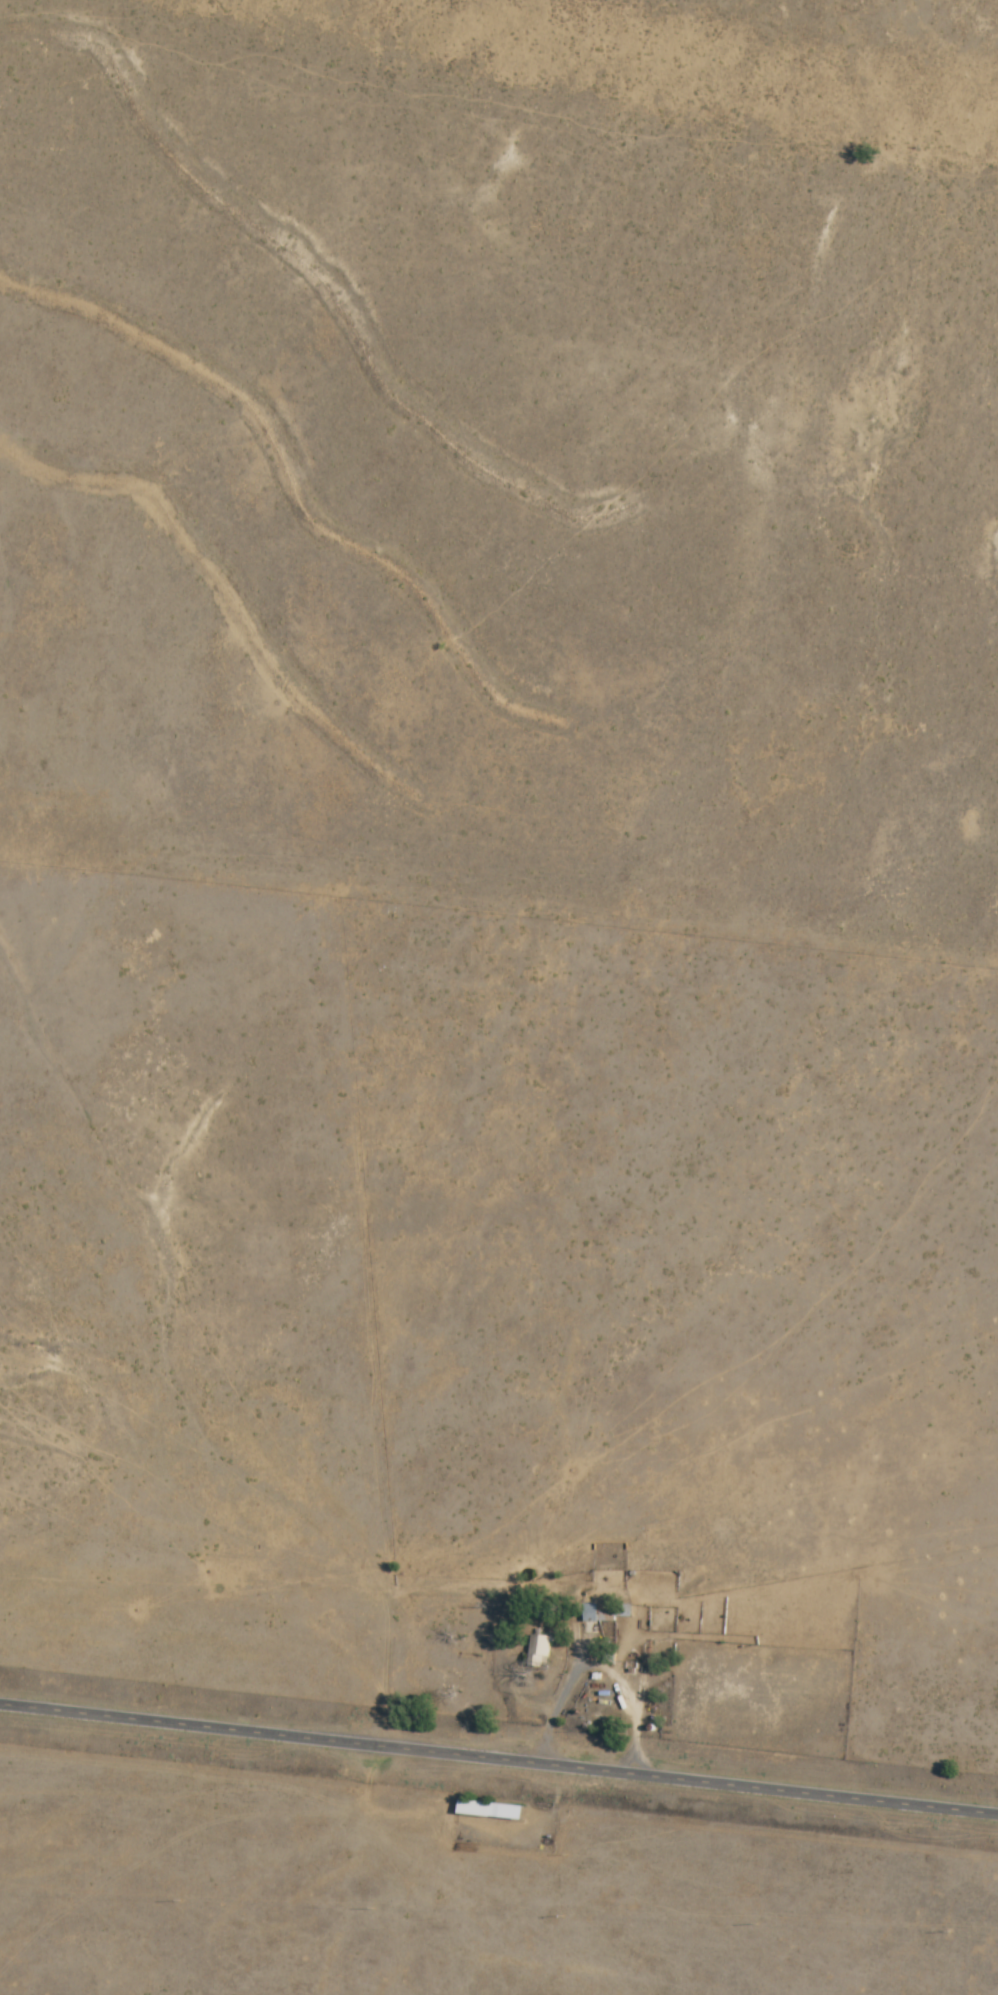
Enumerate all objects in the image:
road: (559, 1710)
road: (499, 1761)

